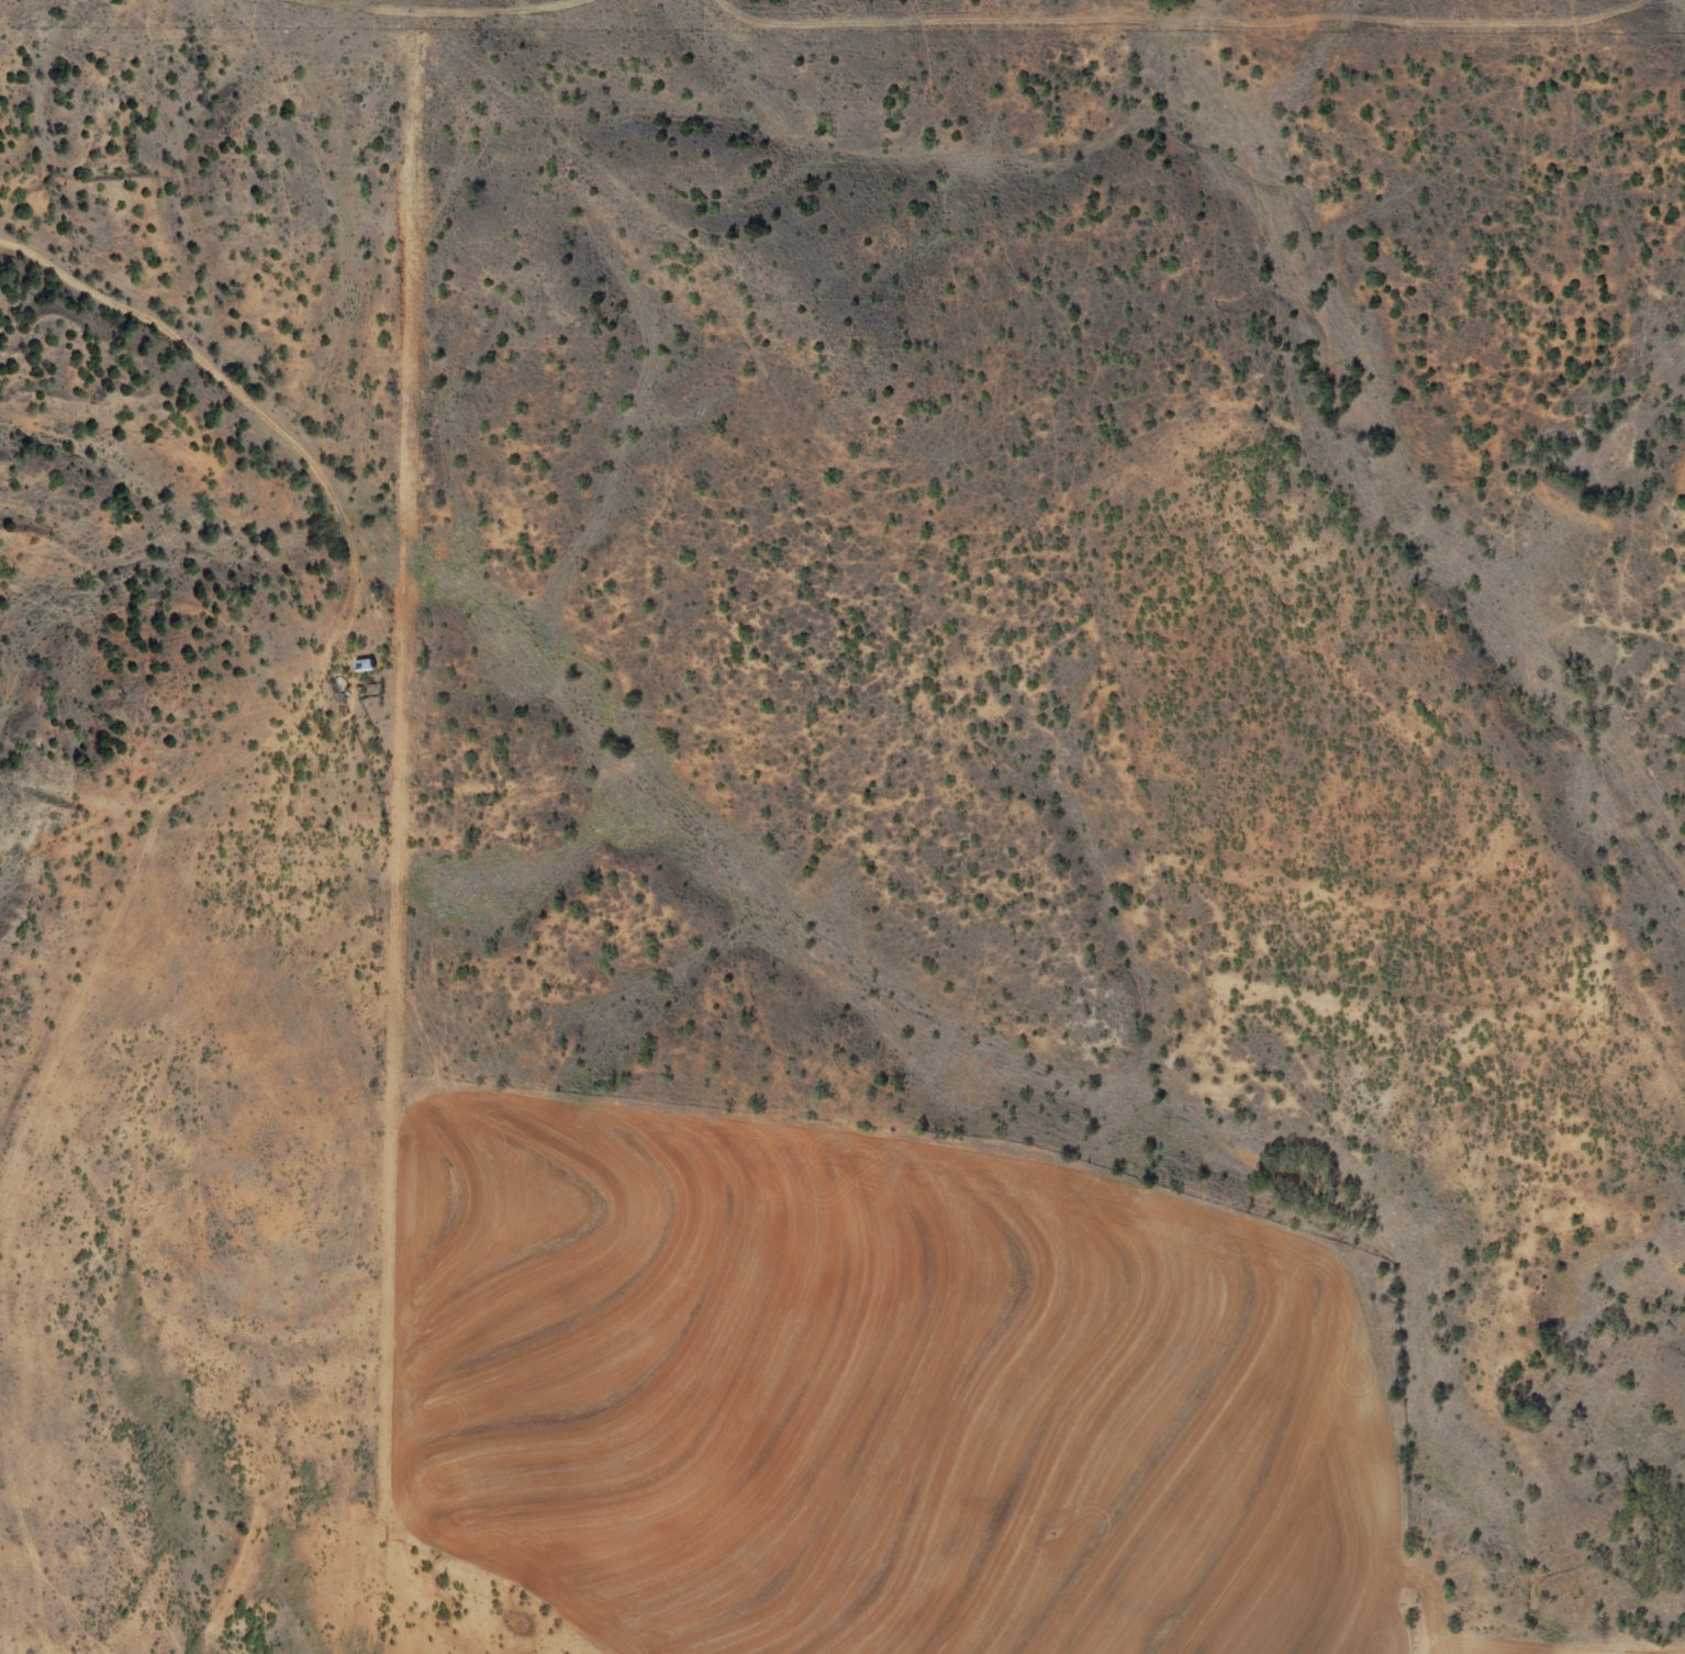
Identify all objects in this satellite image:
building: (369, 666)
road: (855, 712)
road: (1061, 719)

